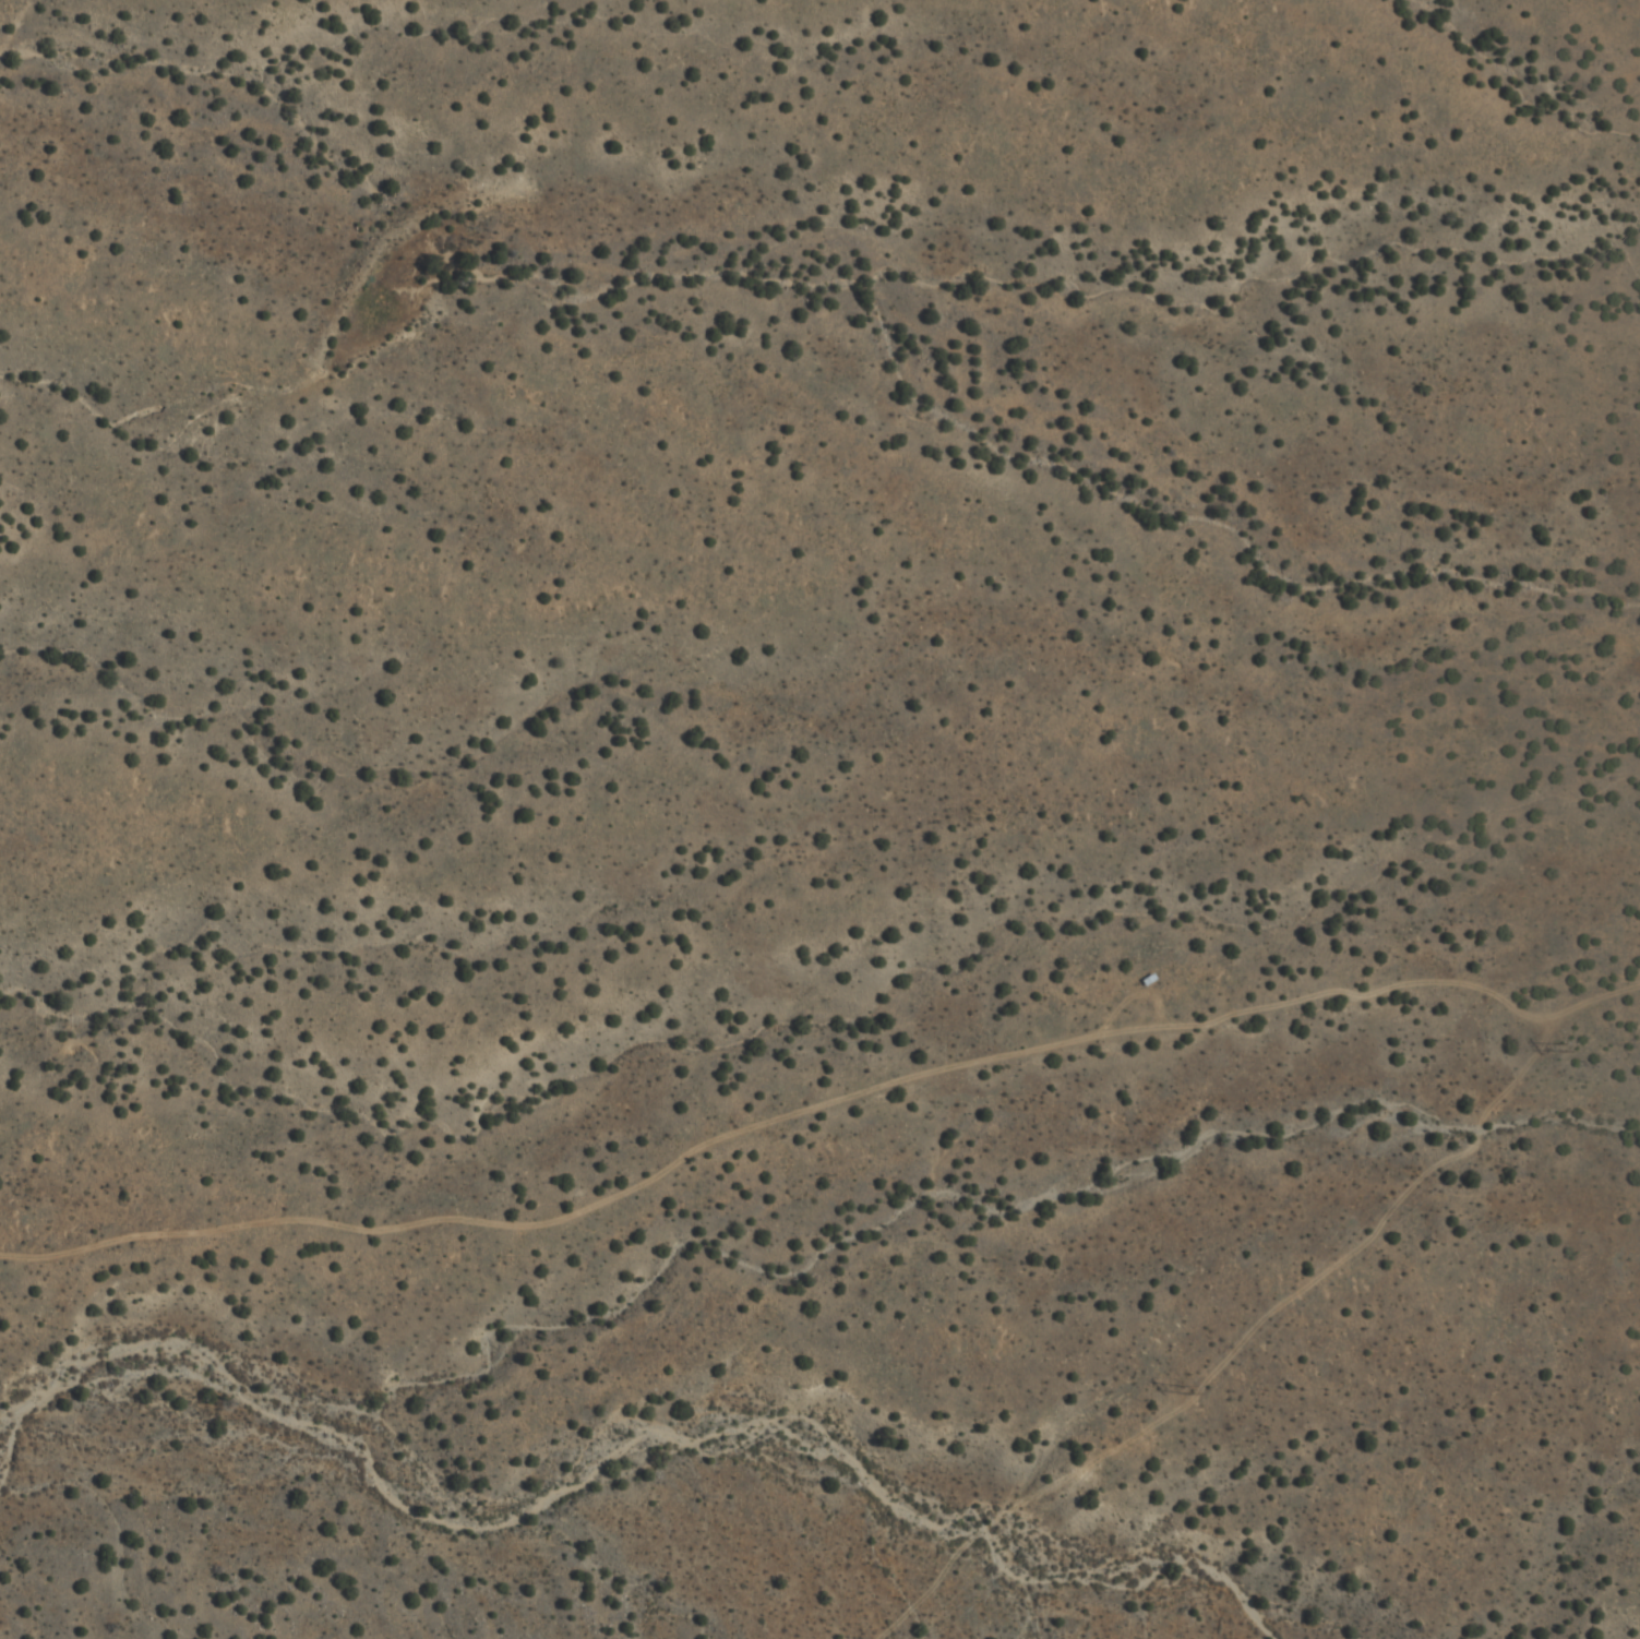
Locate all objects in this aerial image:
power tower: (1565, 1043)
power tower: (1180, 1386)

